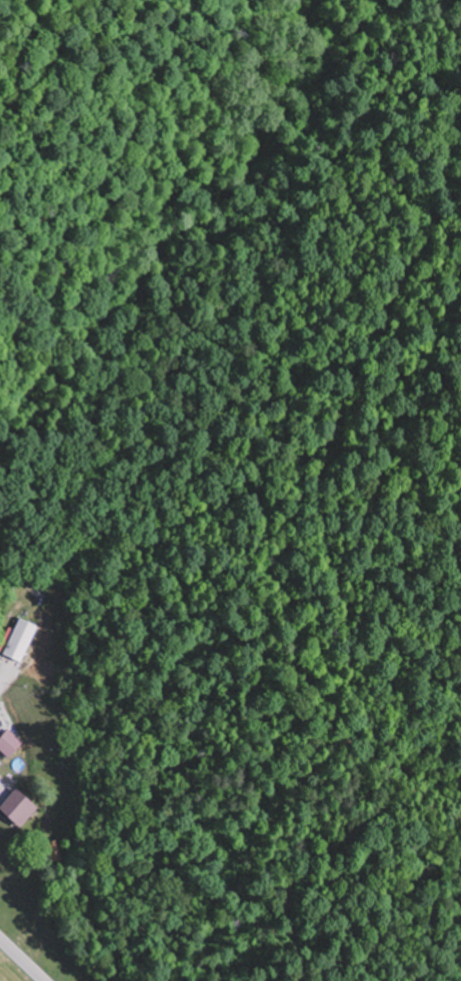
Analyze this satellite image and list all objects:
building: (23, 639)
building: (11, 743)
building: (23, 807)
road: (24, 957)

